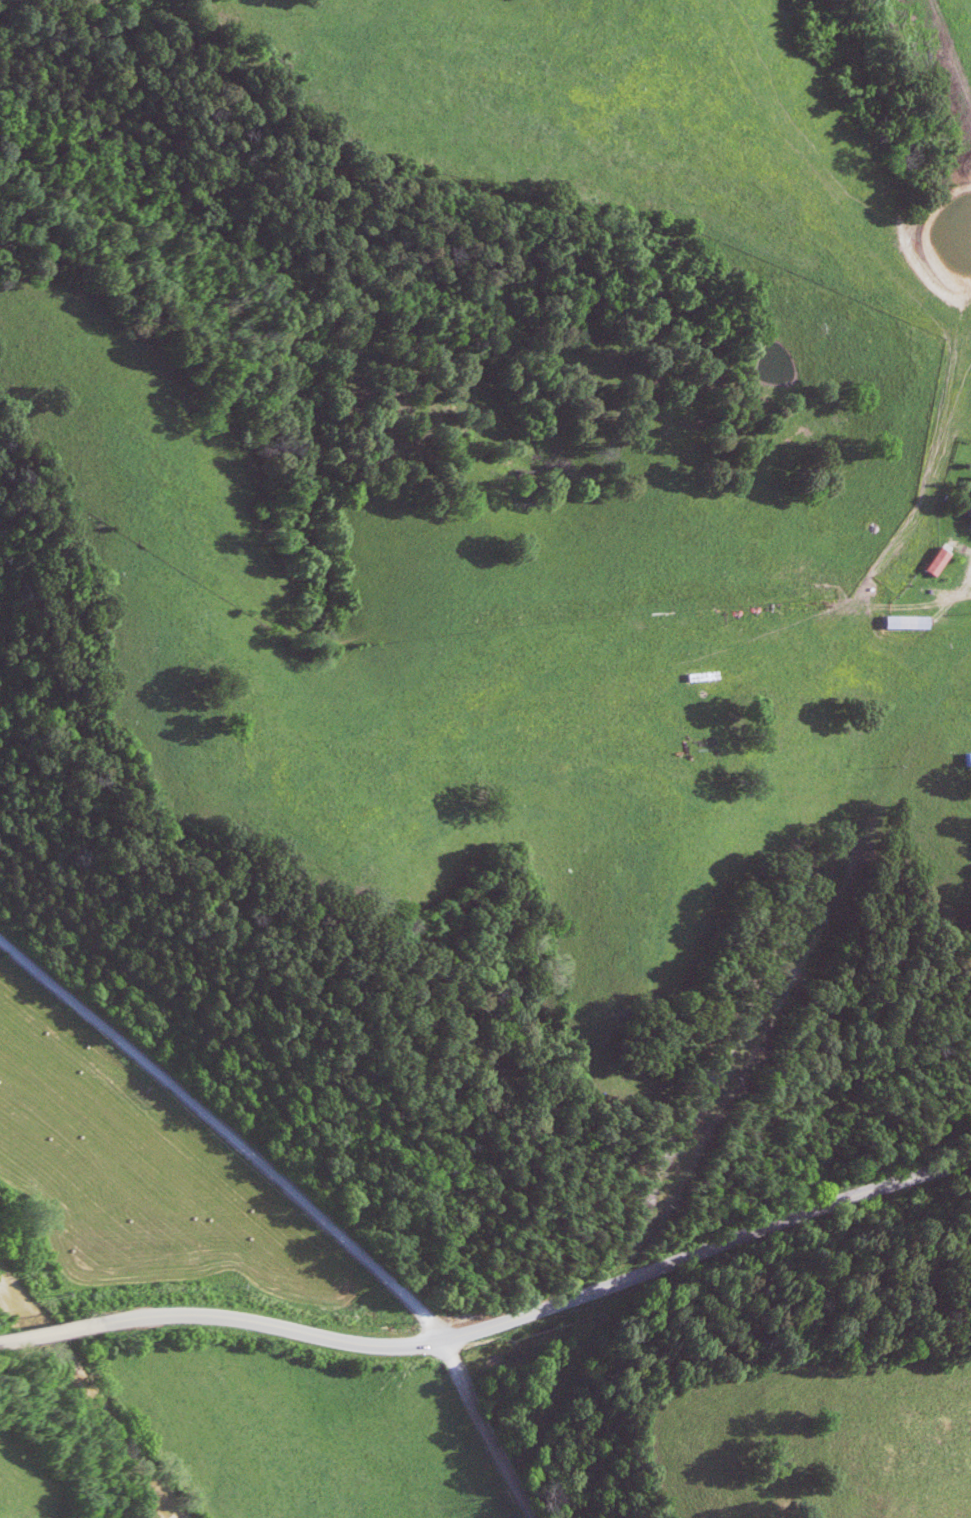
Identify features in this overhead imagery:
building: (964, 505)
building: (930, 563)
road: (967, 574)
building: (898, 623)
road: (225, 1128)
road: (705, 1249)
road: (220, 1318)
road: (482, 1425)

